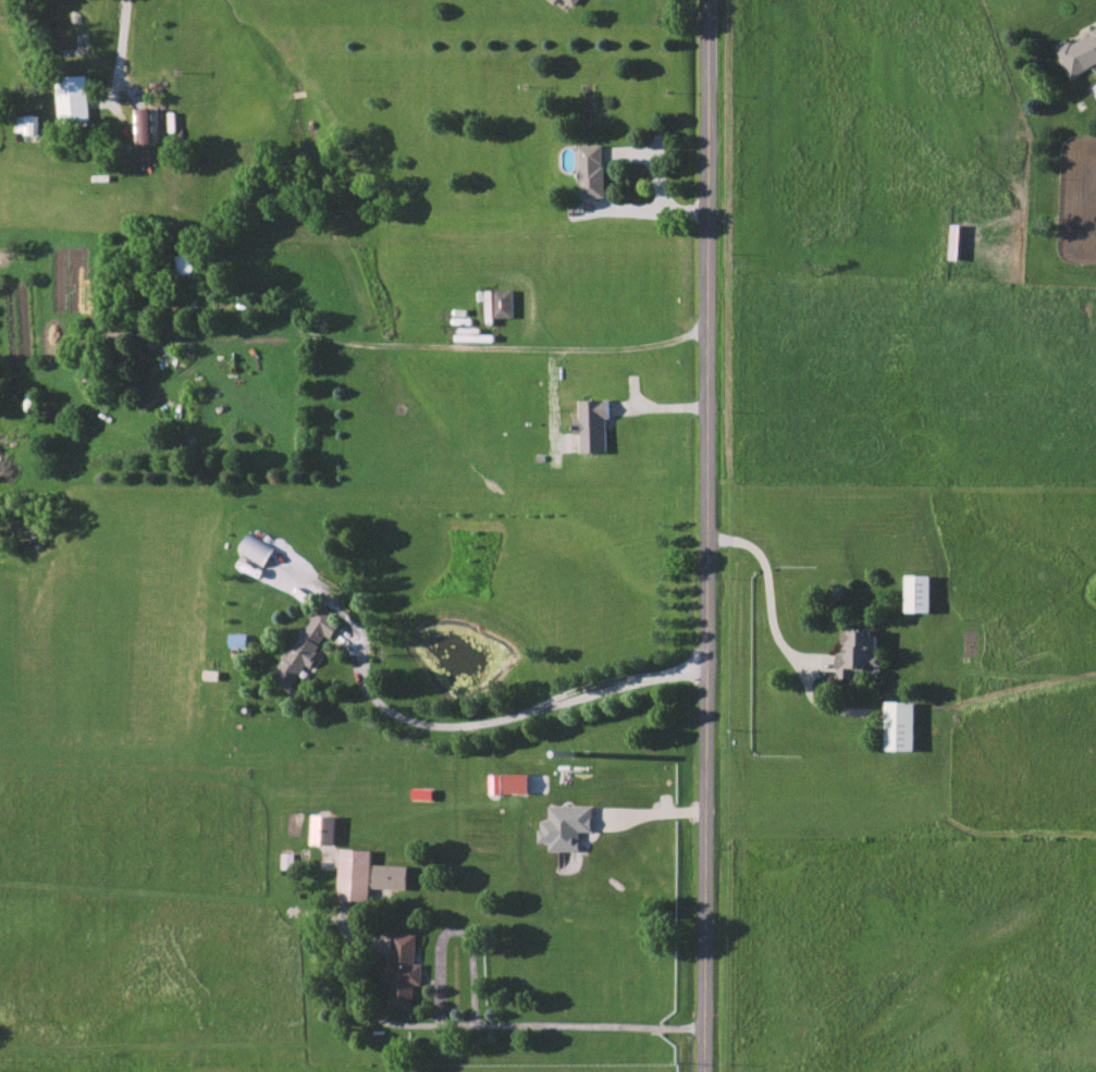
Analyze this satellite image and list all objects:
road: (123, 44)
building: (1080, 53)
building: (73, 98)
building: (27, 123)
building: (147, 125)
building: (591, 170)
road: (648, 208)
building: (956, 242)
building: (184, 263)
building: (500, 304)
road: (430, 344)
building: (593, 424)
road: (712, 535)
building: (257, 547)
building: (919, 592)
road: (776, 633)
building: (239, 640)
building: (308, 644)
building: (859, 653)
road: (528, 708)
building: (900, 725)
building: (517, 783)
building: (495, 784)
road: (657, 813)
building: (566, 826)
building: (324, 829)
building: (355, 874)
building: (390, 877)
building: (403, 971)
road: (472, 1022)

